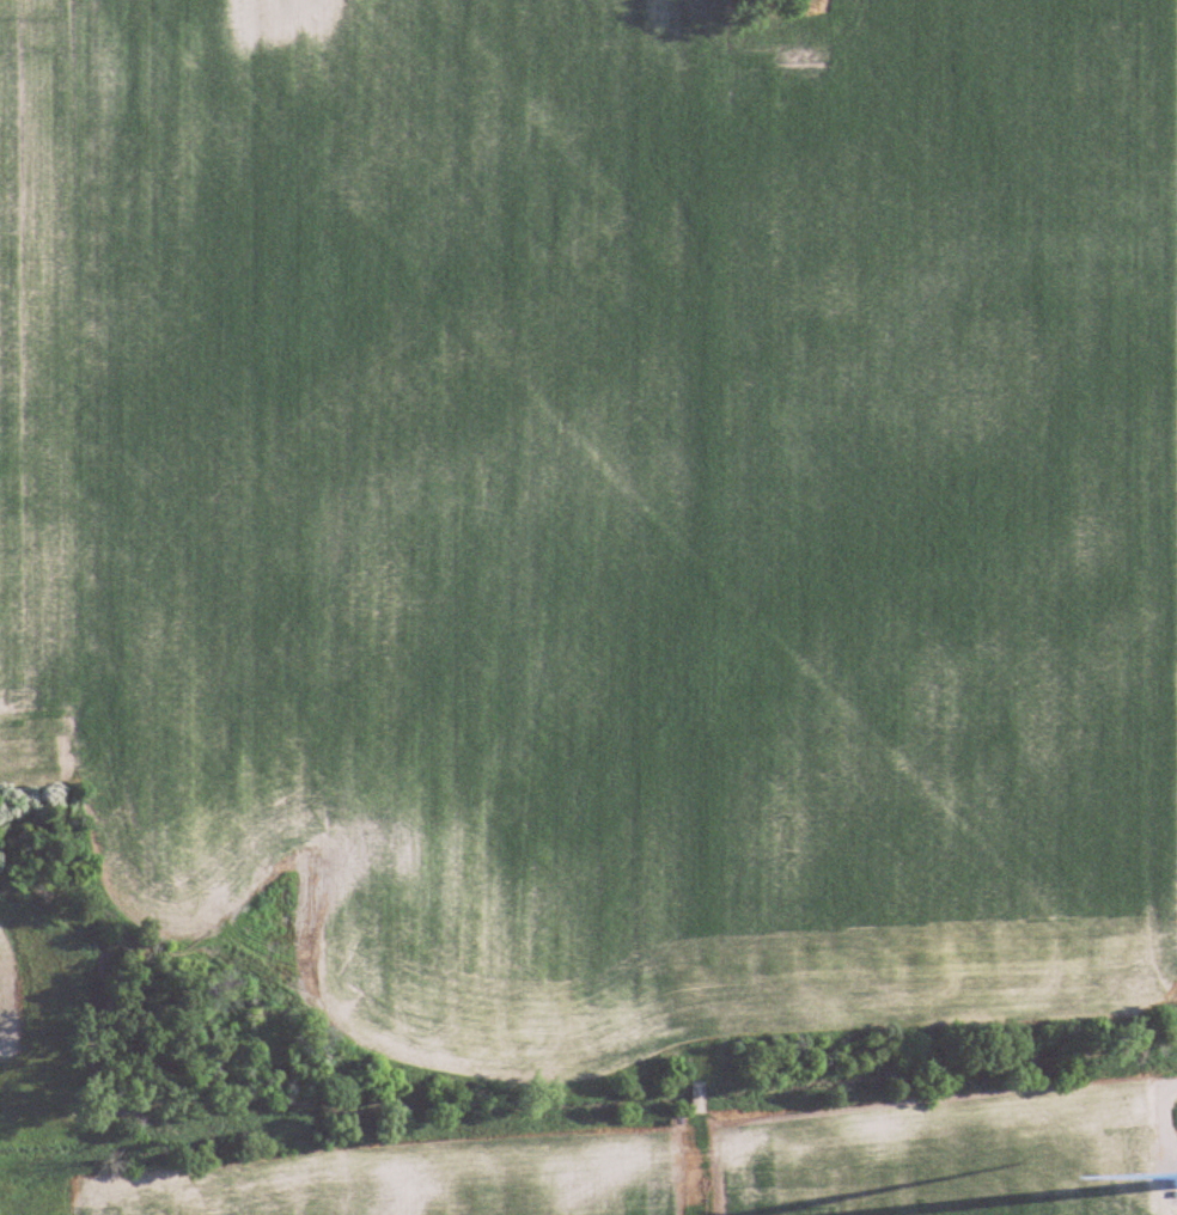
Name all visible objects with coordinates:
wind turbine: (1167, 1128)

